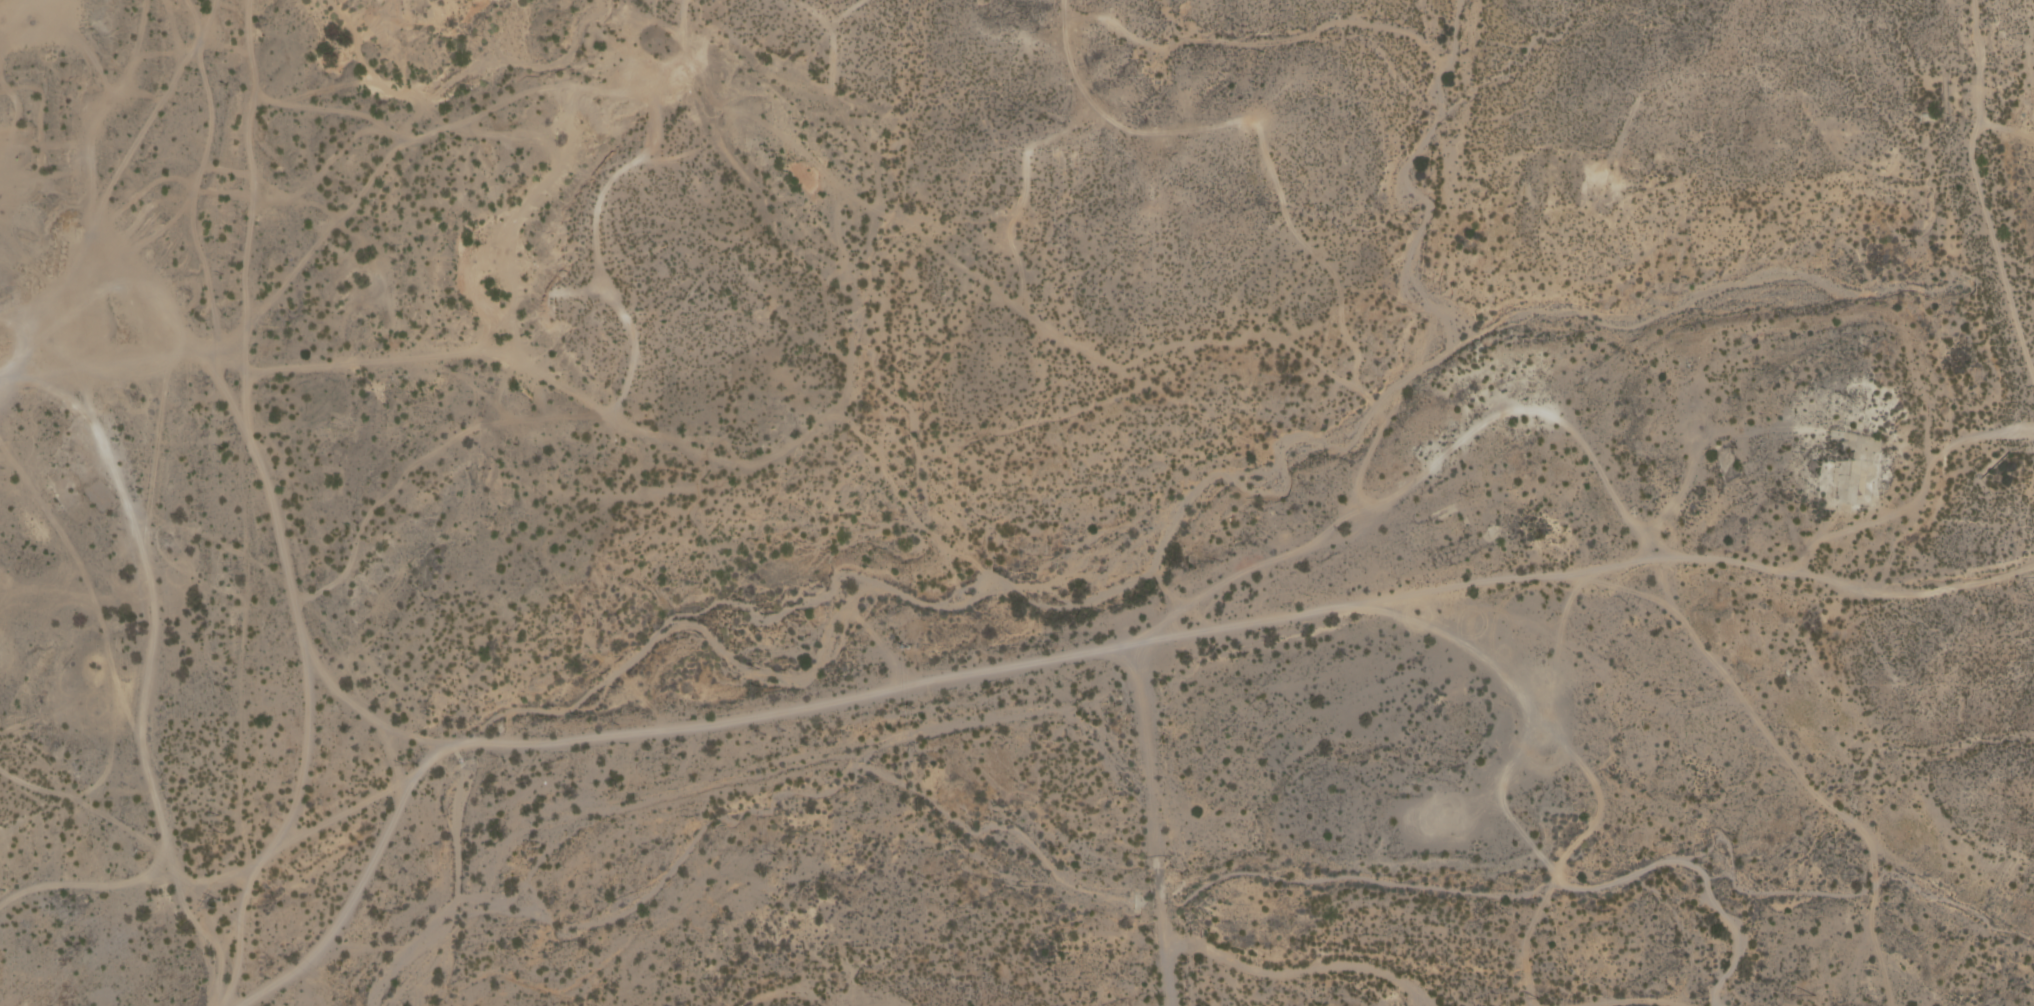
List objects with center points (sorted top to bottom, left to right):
road: (2006, 129)
road: (1981, 184)
road: (243, 185)
dam: (1999, 211)
road: (412, 356)
road: (4, 376)
road: (1926, 475)
road: (1559, 571)
road: (146, 668)
road: (788, 709)
power tower: (0, 741)
road: (304, 751)
road: (73, 794)
road: (299, 833)
road: (1556, 867)
power tower: (222, 903)
road: (1302, 968)
power tower: (1536, 998)
road: (1624, 1001)
power tower: (1811, 1001)

